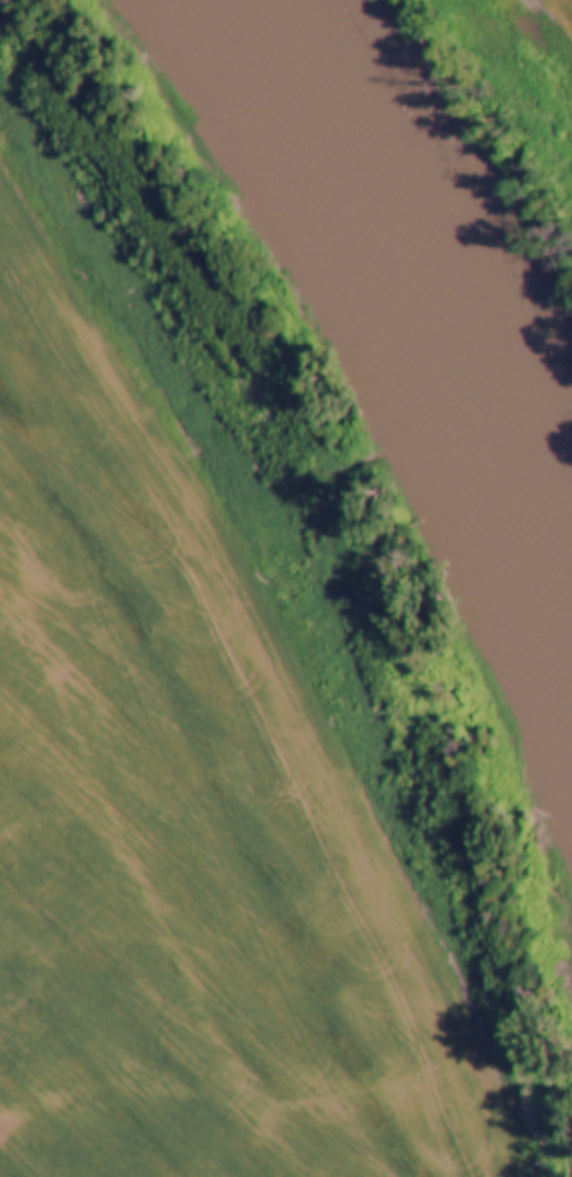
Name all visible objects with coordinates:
river: (401, 314)

